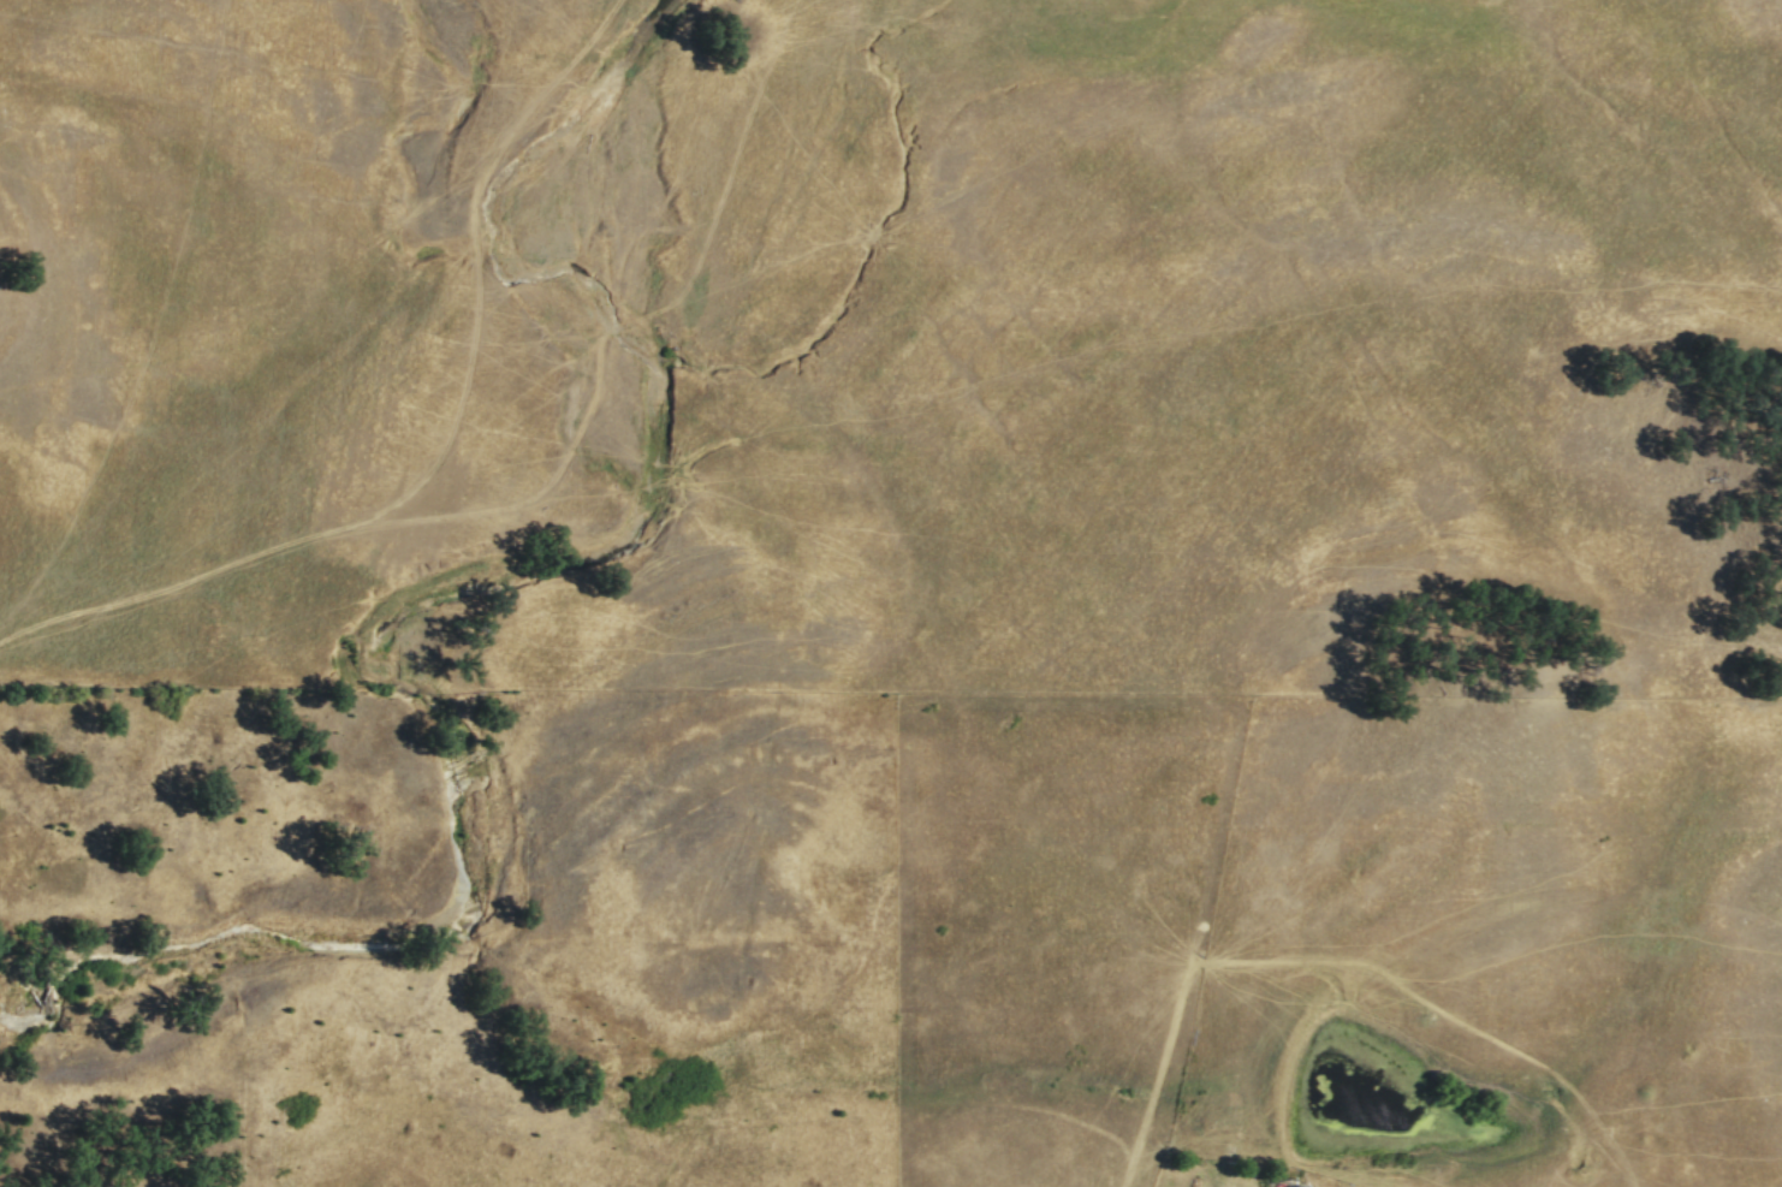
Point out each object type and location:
road: (476, 267)
road: (557, 483)
building: (1296, 1186)

